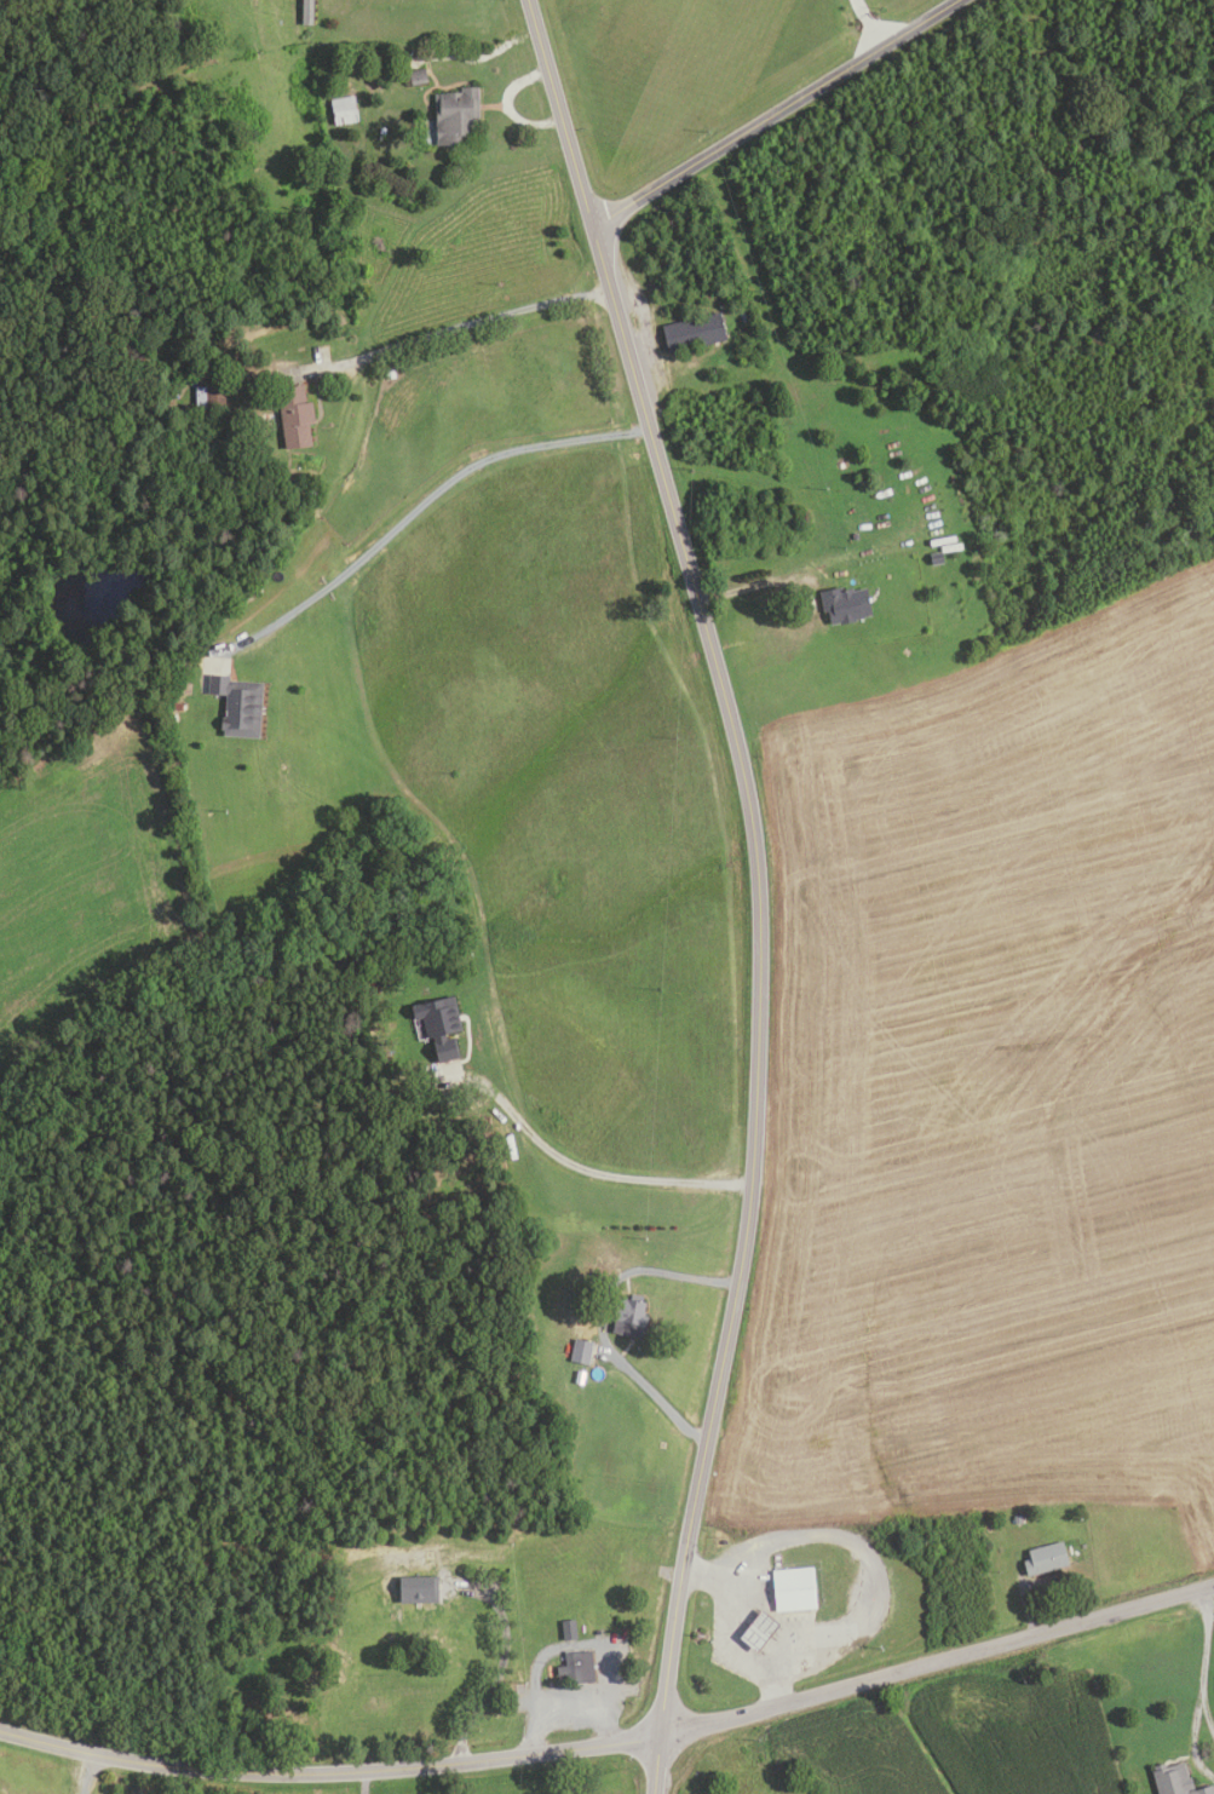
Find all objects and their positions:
building: (307, 12)
road: (869, 22)
building: (419, 76)
road: (507, 105)
building: (344, 111)
road: (772, 113)
building: (456, 116)
road: (460, 322)
building: (695, 332)
building: (209, 398)
building: (297, 418)
road: (424, 504)
building: (856, 536)
building: (937, 558)
road: (777, 577)
building: (845, 604)
building: (240, 705)
building: (177, 706)
road: (738, 764)
building: (372, 987)
building: (441, 1025)
building: (484, 1086)
crop: (990, 1087)
road: (612, 1168)
building: (629, 1317)
road: (600, 1321)
building: (582, 1352)
building: (1019, 1518)
building: (1083, 1545)
building: (1047, 1557)
building: (795, 1589)
road: (1026, 1603)
building: (566, 1629)
road: (1204, 1643)
building: (576, 1668)
road: (496, 1669)
road: (666, 1671)
road: (565, 1704)
road: (1207, 1713)
road: (614, 1742)
road: (1189, 1742)
road: (87, 1775)
building: (1174, 1779)
road: (363, 1783)

